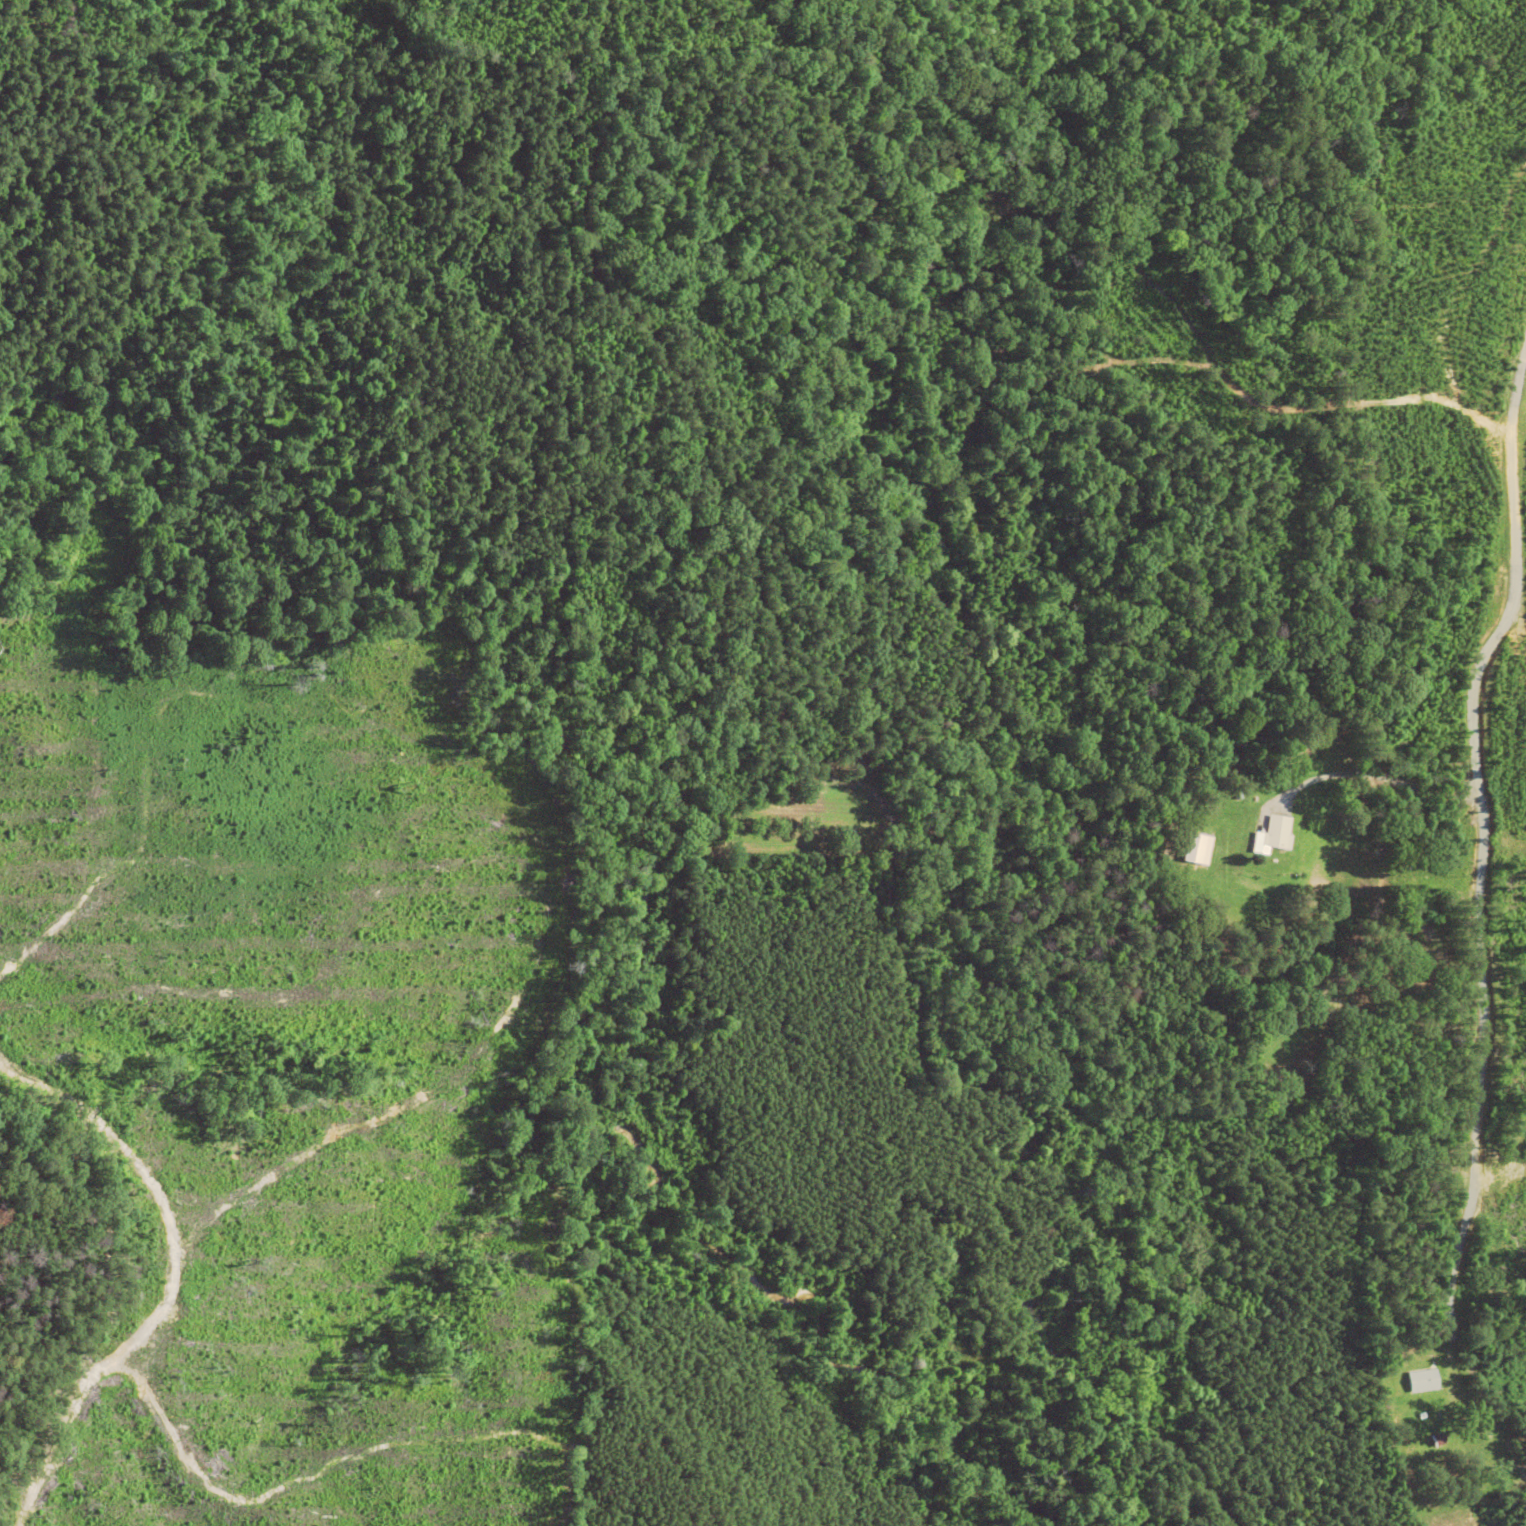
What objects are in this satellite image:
building: (1277, 832)
road: (1469, 839)
building: (1198, 849)
building: (1423, 1381)

